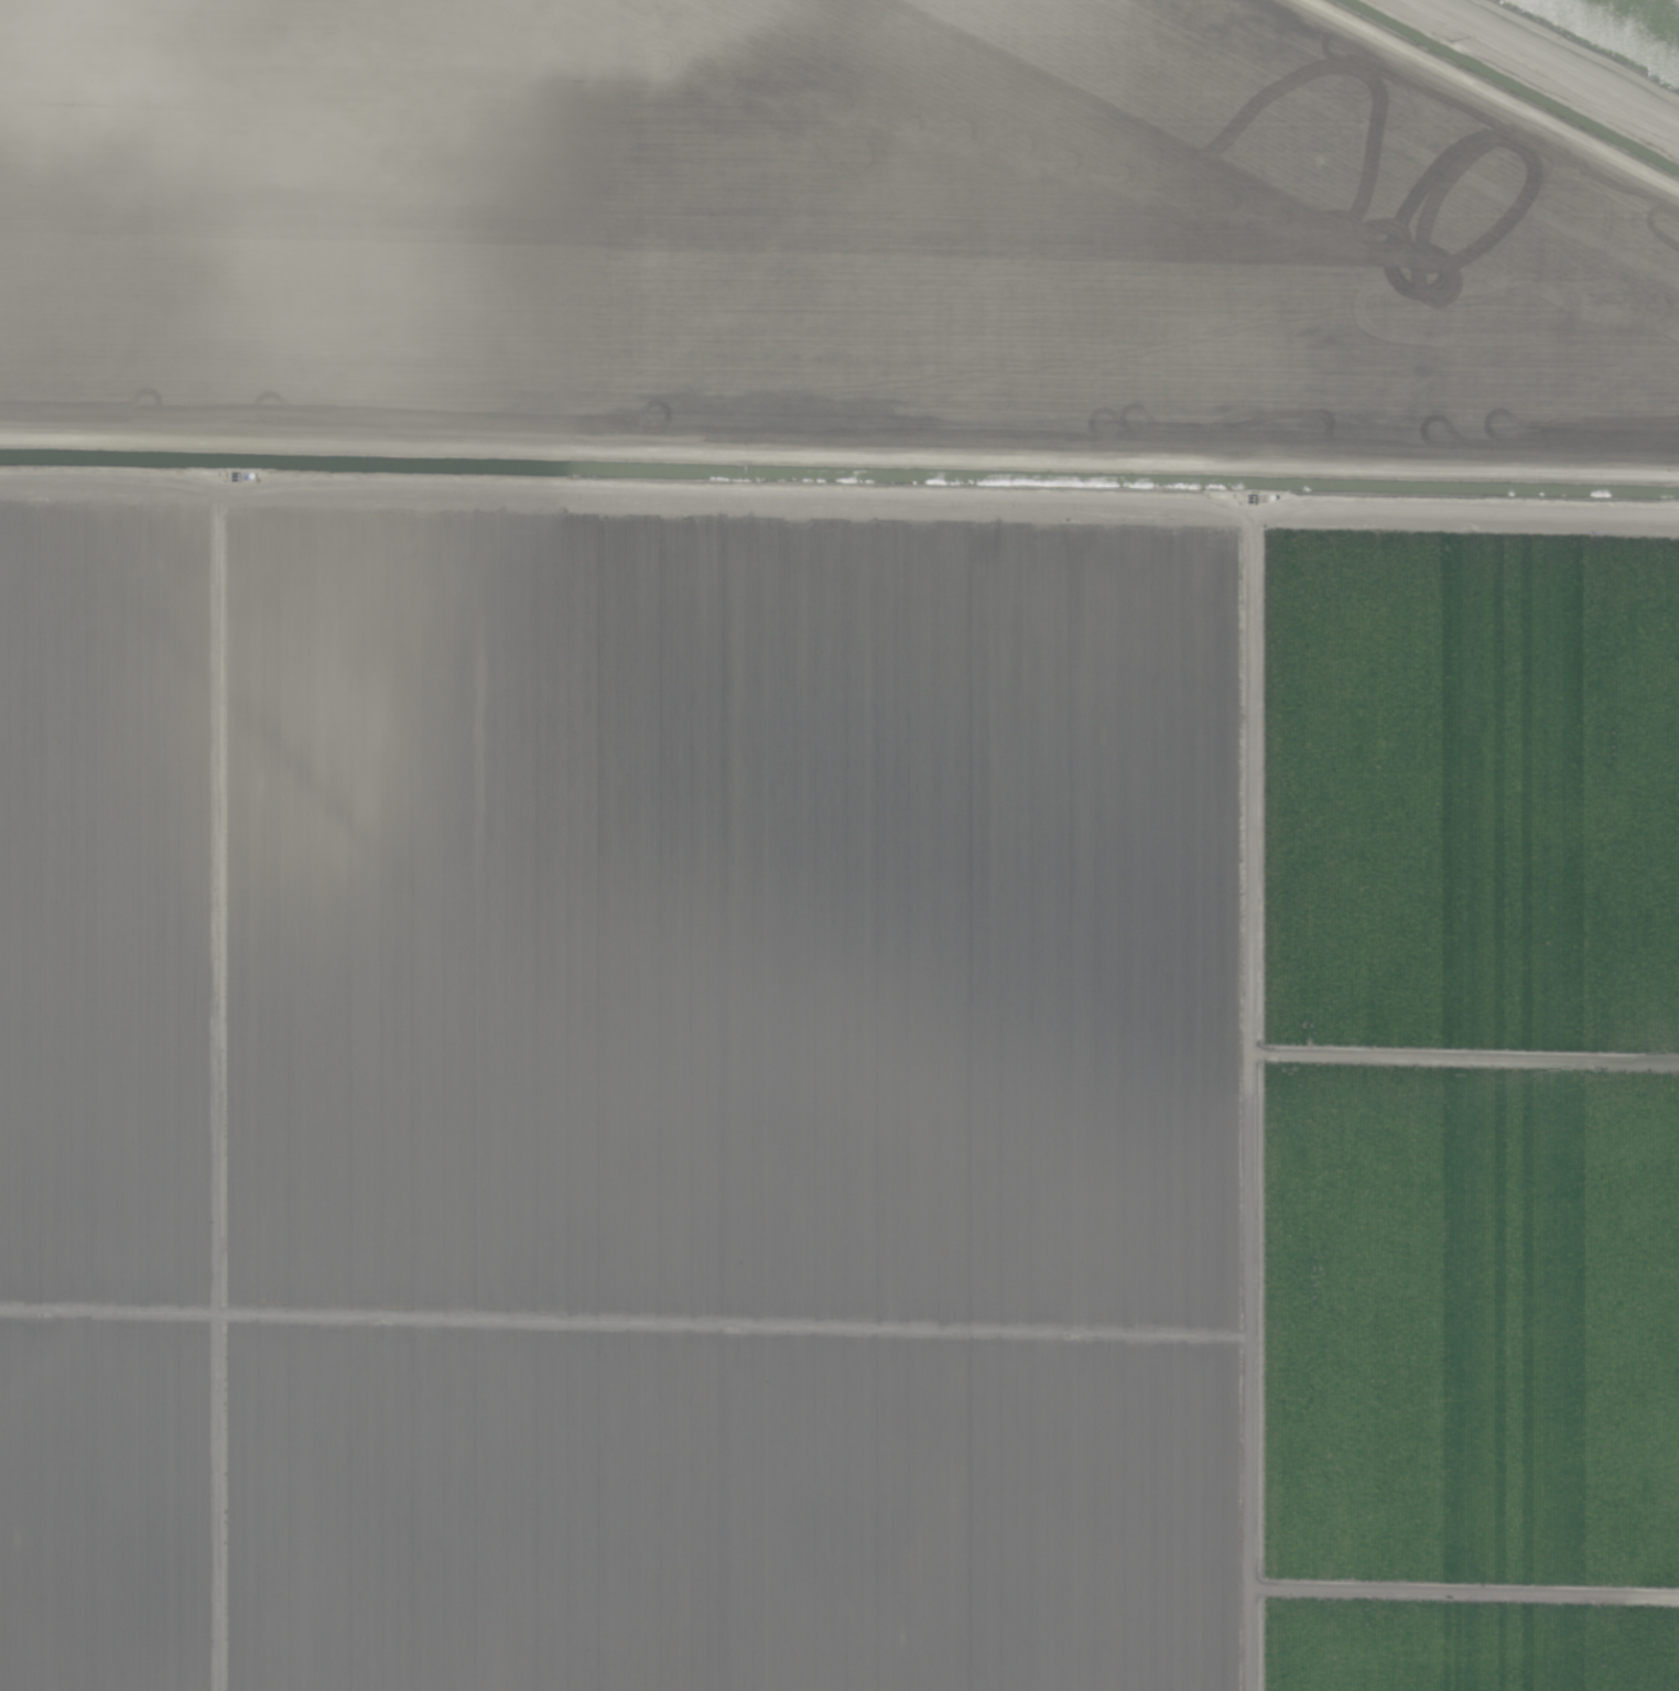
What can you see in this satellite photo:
crop: (838, 846)

